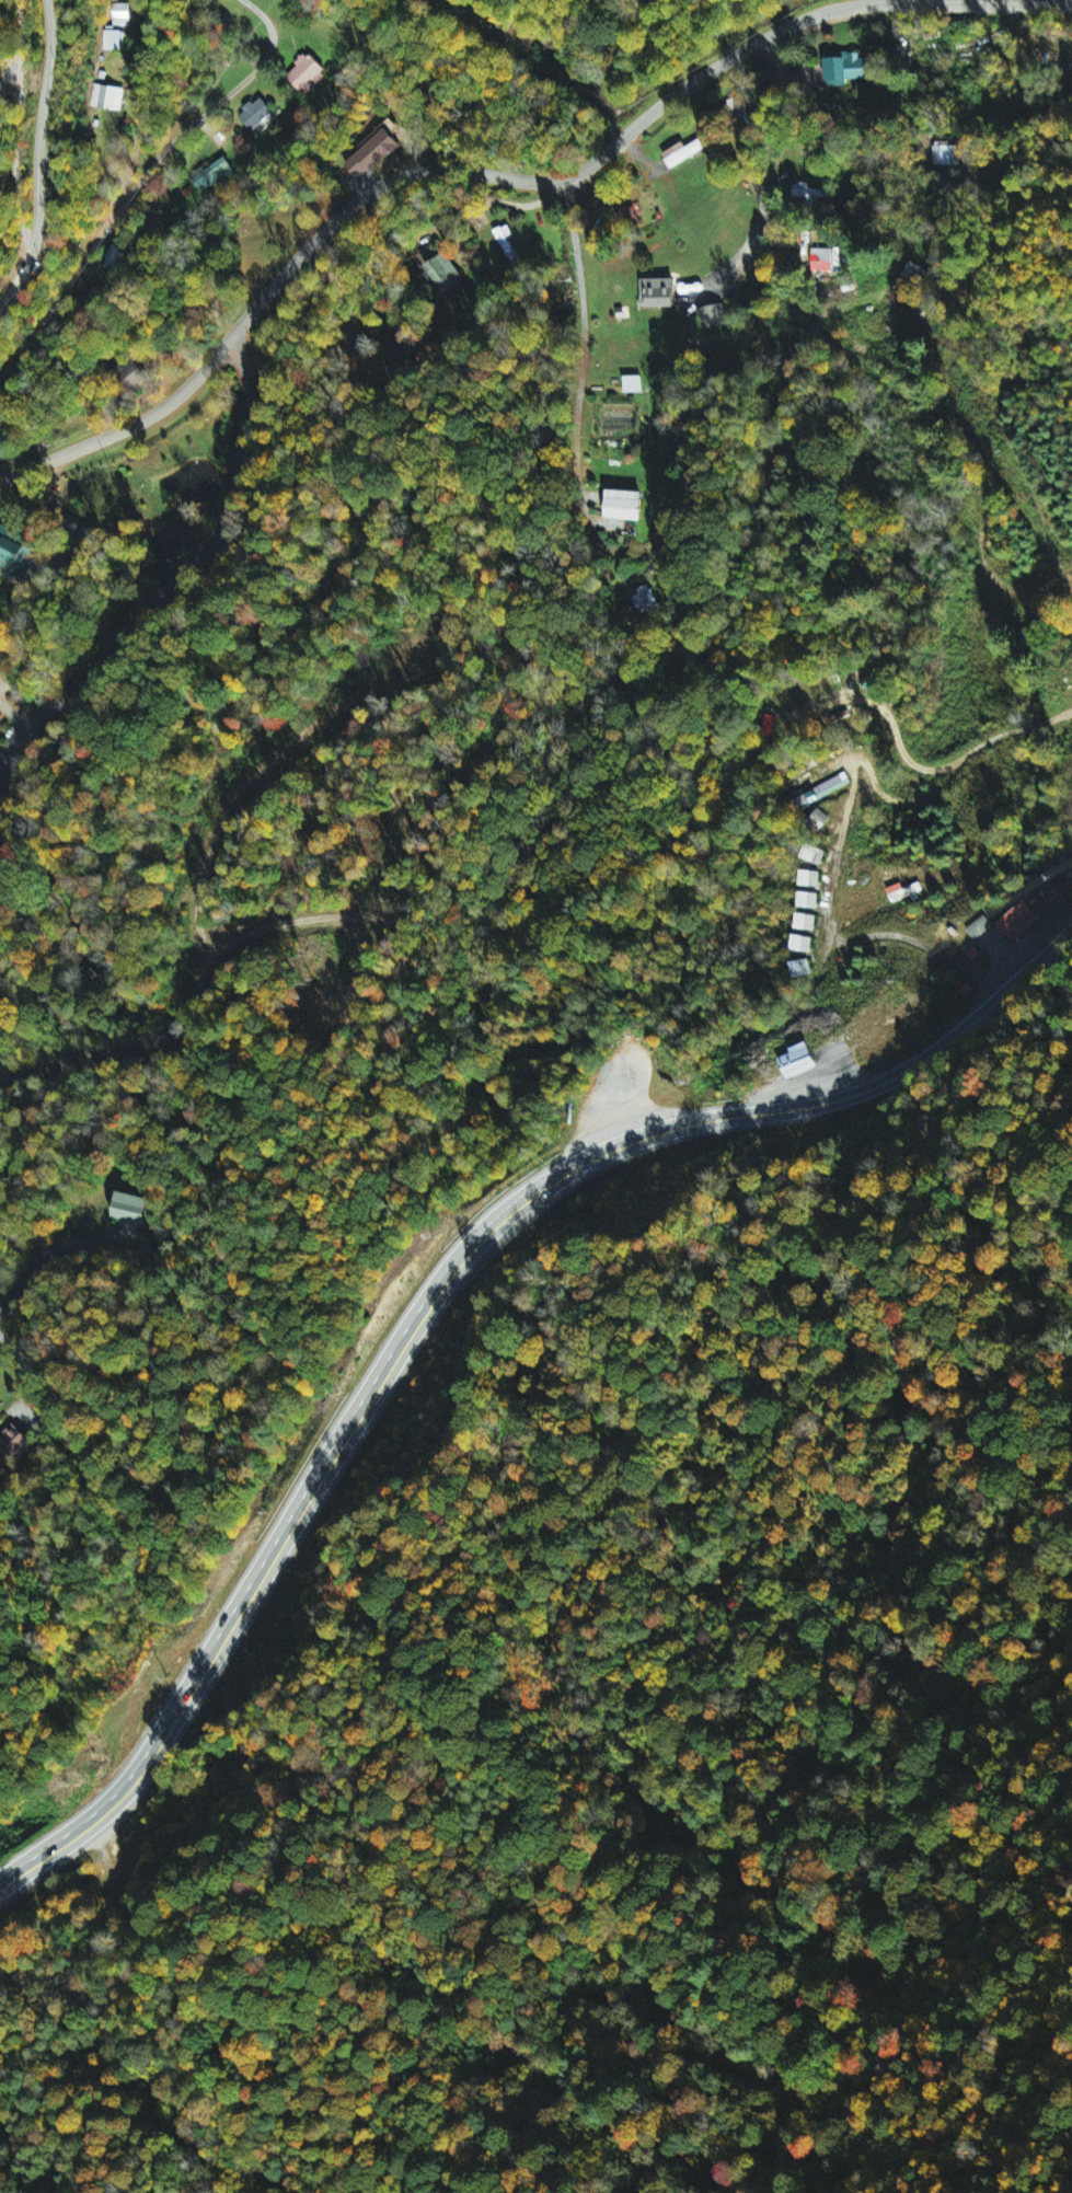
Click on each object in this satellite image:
road: (251, 7)
building: (122, 15)
building: (114, 39)
building: (845, 70)
building: (307, 76)
building: (107, 99)
road: (120, 103)
road: (194, 111)
building: (255, 114)
road: (18, 127)
building: (681, 154)
building: (948, 154)
building: (371, 155)
road: (39, 160)
building: (215, 173)
road: (506, 174)
road: (759, 196)
building: (624, 218)
road: (730, 267)
building: (445, 274)
road: (59, 287)
road: (886, 290)
building: (656, 295)
building: (711, 318)
road: (583, 379)
building: (632, 385)
building: (622, 506)
building: (11, 544)
road: (182, 577)
building: (644, 601)
road: (930, 766)
building: (825, 790)
building: (814, 854)
building: (809, 879)
road: (200, 892)
building: (902, 892)
building: (807, 900)
building: (1018, 920)
building: (805, 922)
building: (979, 927)
road: (867, 935)
building: (802, 944)
building: (797, 1061)
building: (132, 1210)
road: (65, 1246)
road: (439, 1294)
road: (28, 1365)
building: (13, 1441)

